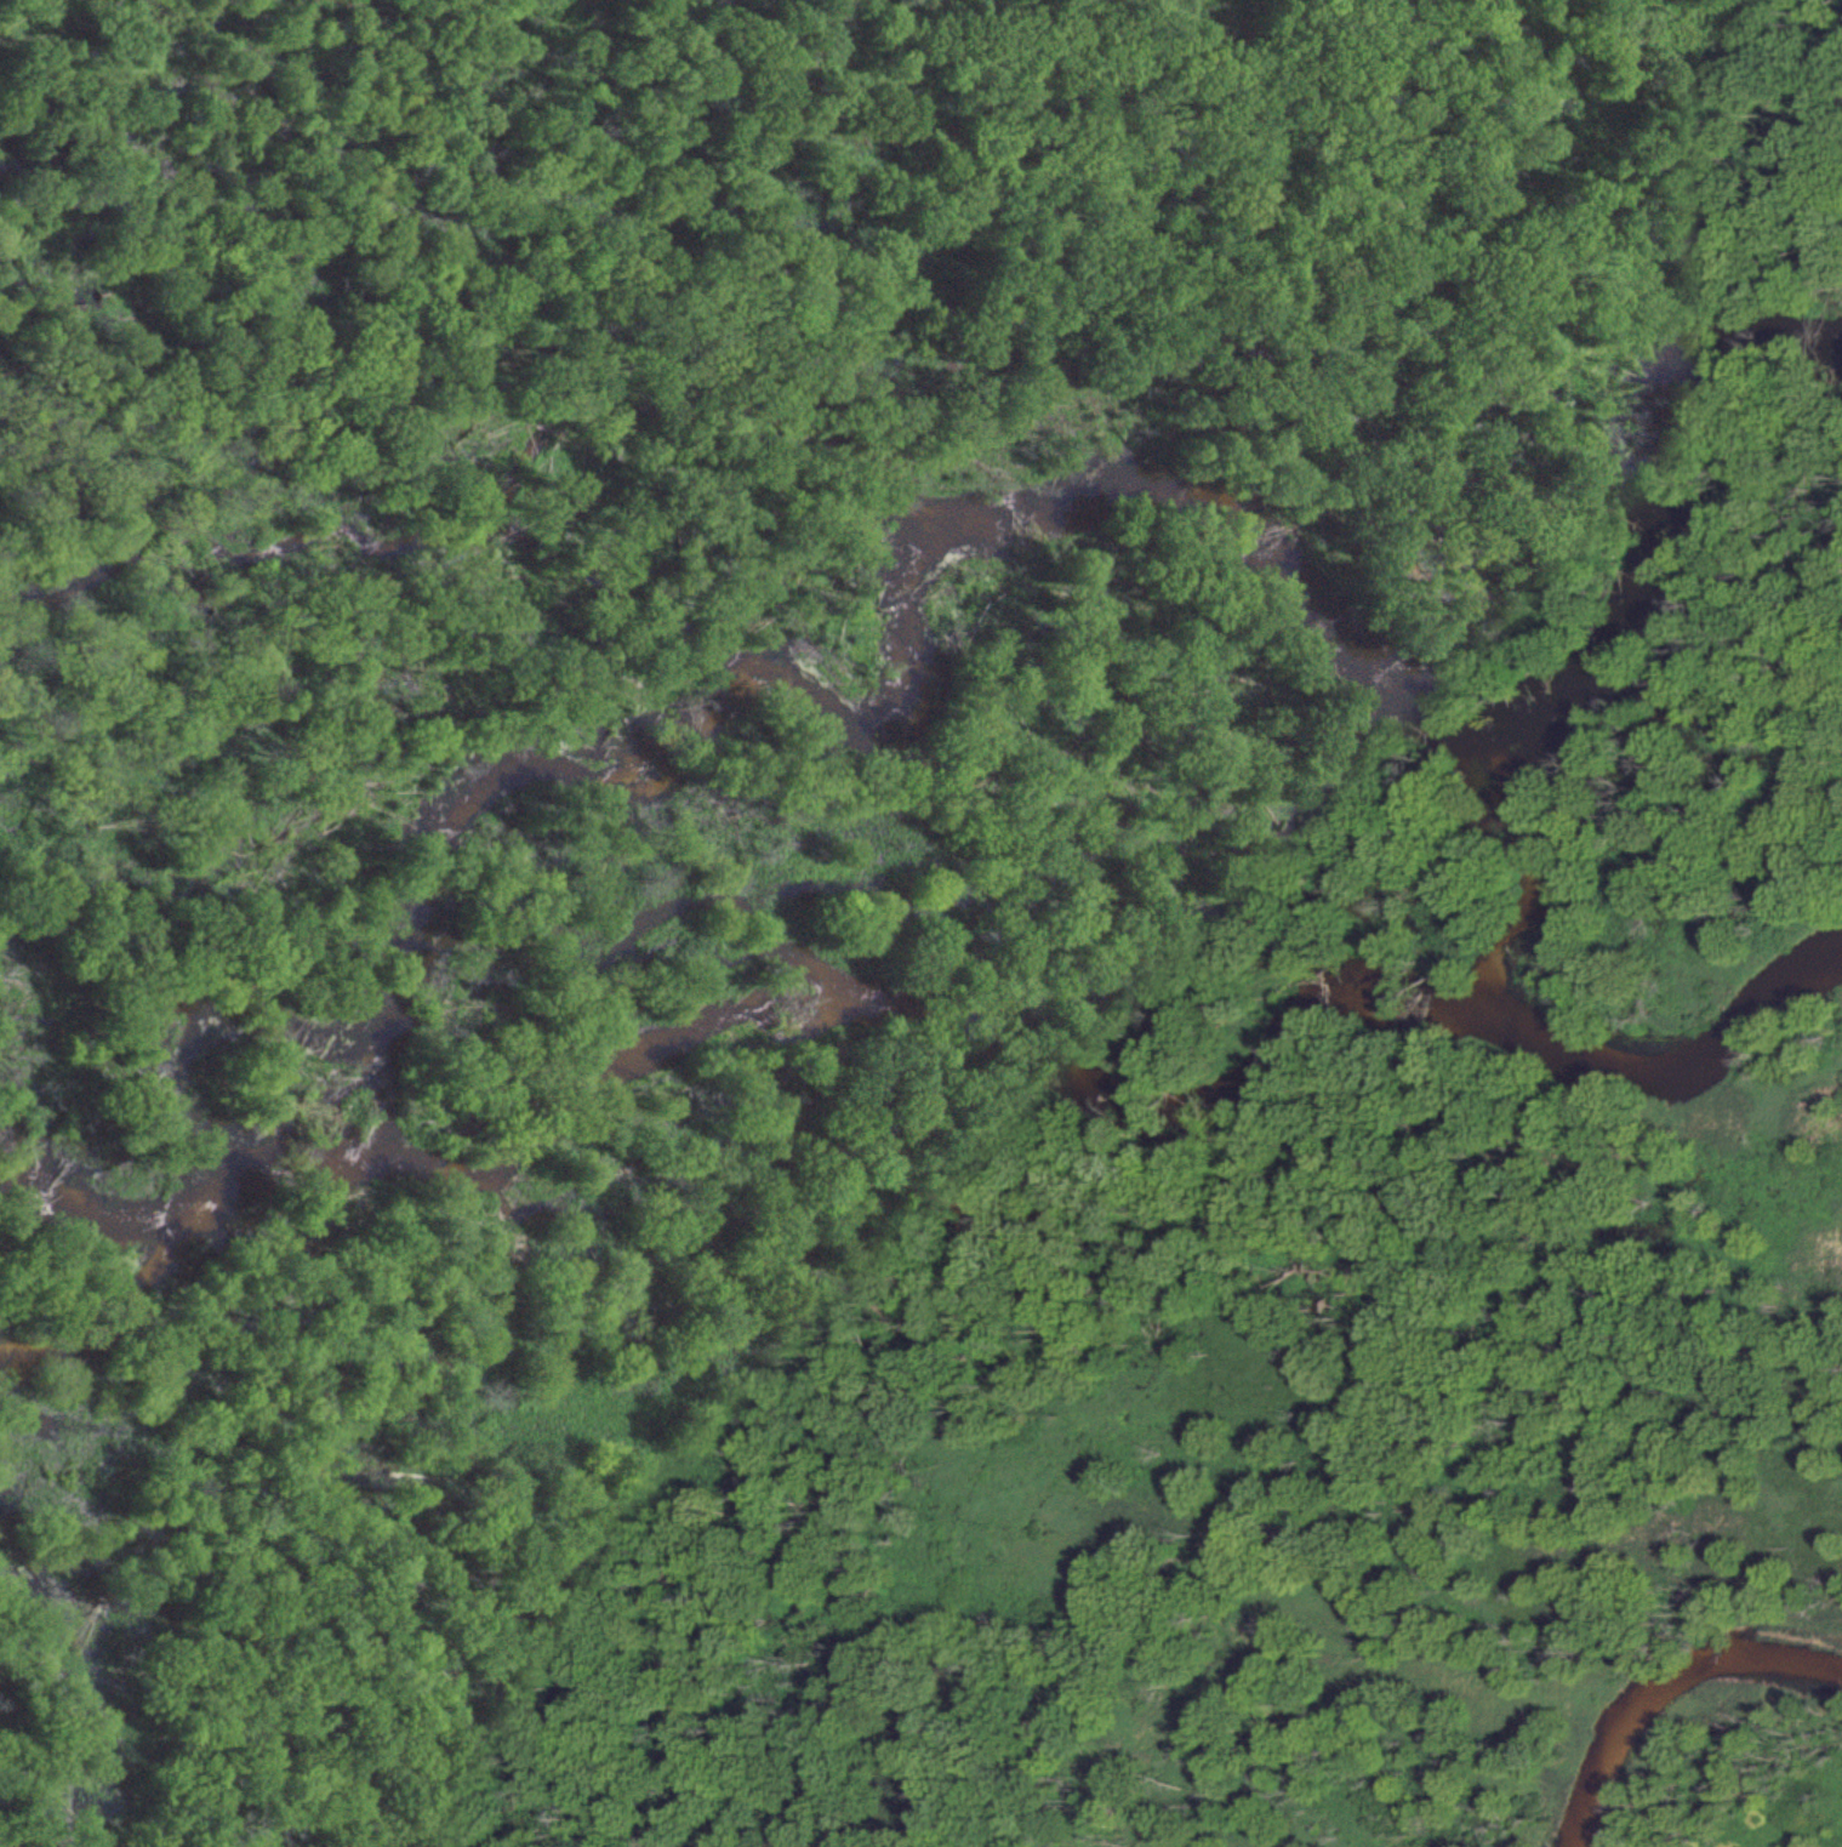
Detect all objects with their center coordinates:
river: (1680, 1709)

